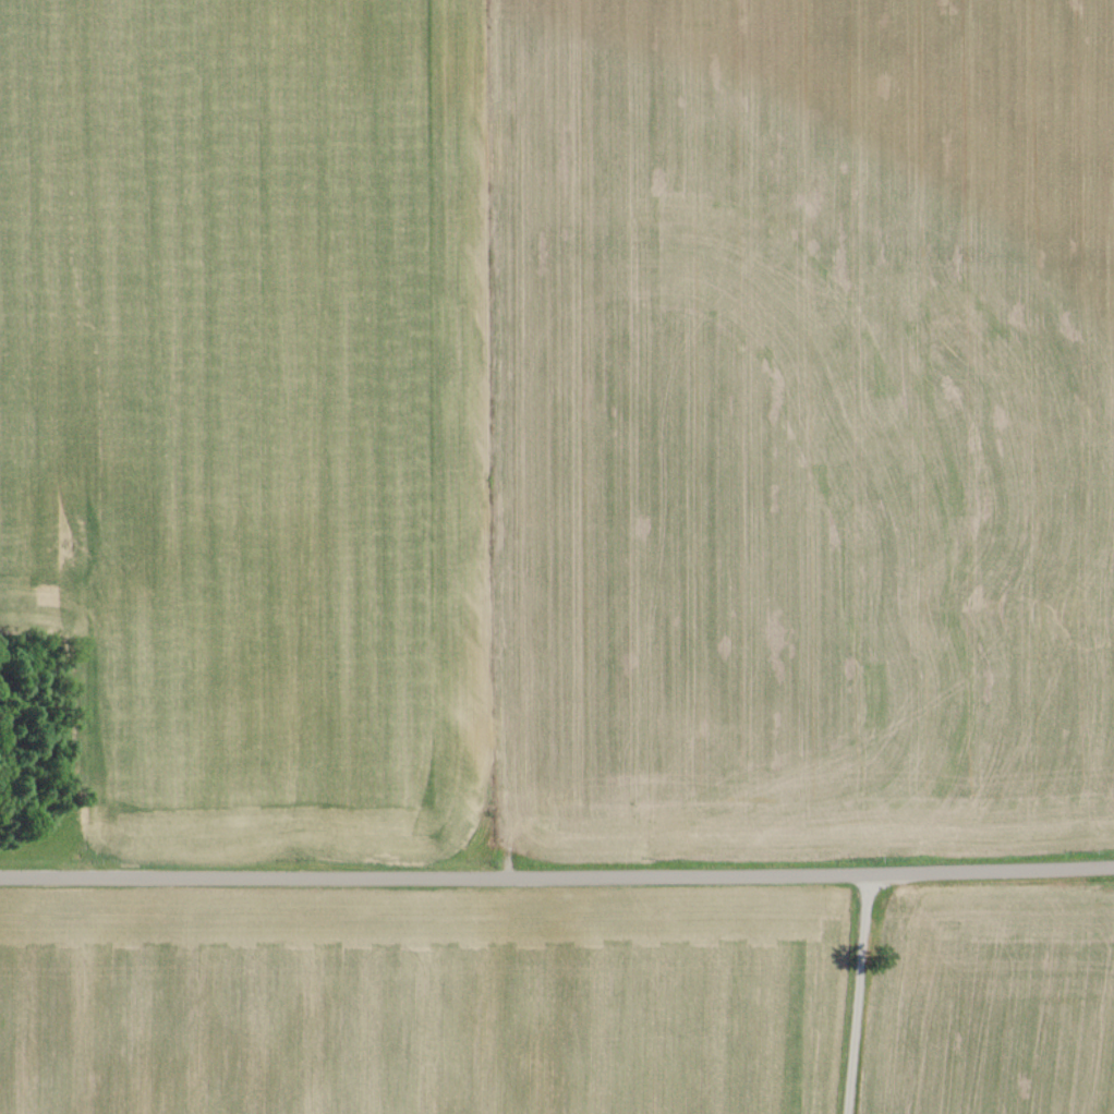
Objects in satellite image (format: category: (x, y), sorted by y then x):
road: (557, 873)
road: (858, 993)

